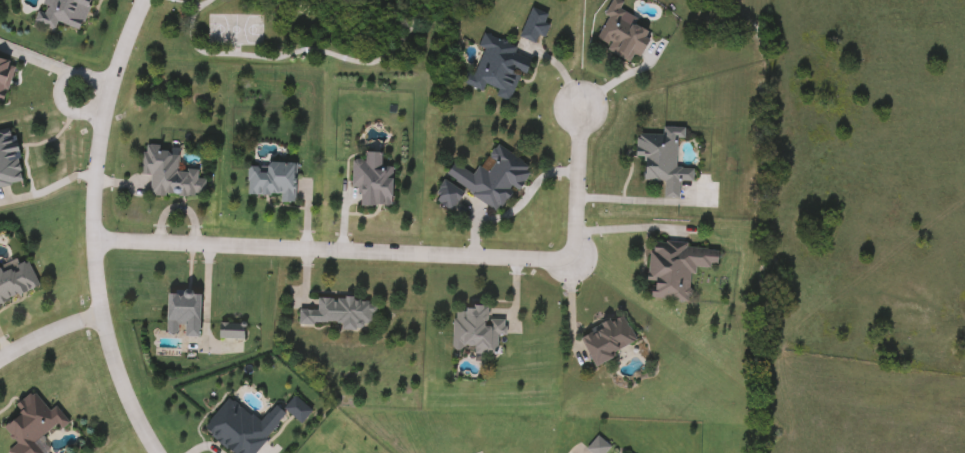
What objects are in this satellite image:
building: (62, 13)
building: (533, 25)
building: (619, 34)
road: (54, 64)
building: (496, 68)
building: (4, 76)
road: (72, 111)
building: (8, 160)
building: (661, 160)
building: (168, 174)
building: (490, 178)
building: (270, 181)
building: (371, 183)
road: (49, 187)
building: (447, 196)
road: (621, 199)
road: (92, 227)
road: (628, 228)
road: (405, 256)
building: (674, 269)
building: (15, 281)
road: (569, 305)
building: (182, 313)
building: (338, 313)
road: (49, 331)
building: (474, 331)
building: (607, 340)
building: (296, 410)
building: (31, 424)
building: (240, 428)

